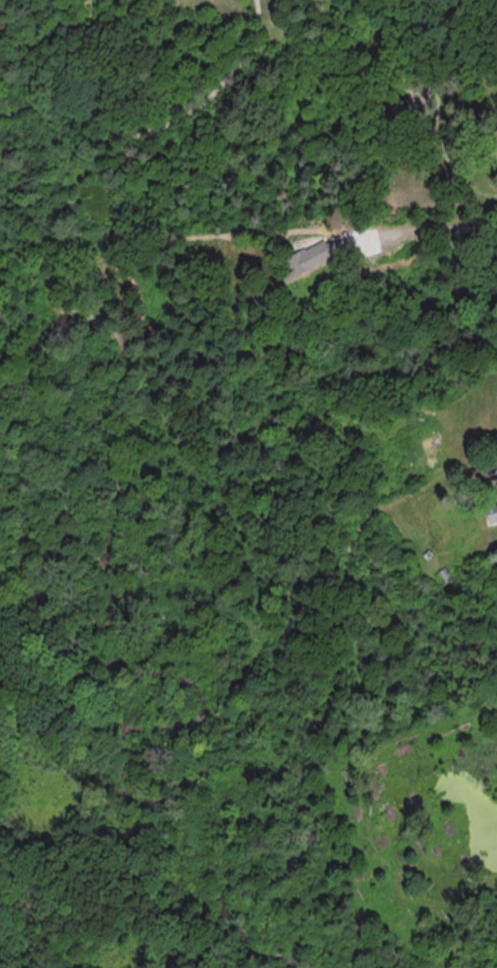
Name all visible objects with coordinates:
road: (67, 5)
road: (446, 19)
road: (51, 50)
road: (437, 107)
park: (415, 108)
park: (165, 115)
road: (160, 125)
road: (443, 229)
building: (313, 257)
building: (496, 486)
building: (492, 512)
river: (55, 624)

